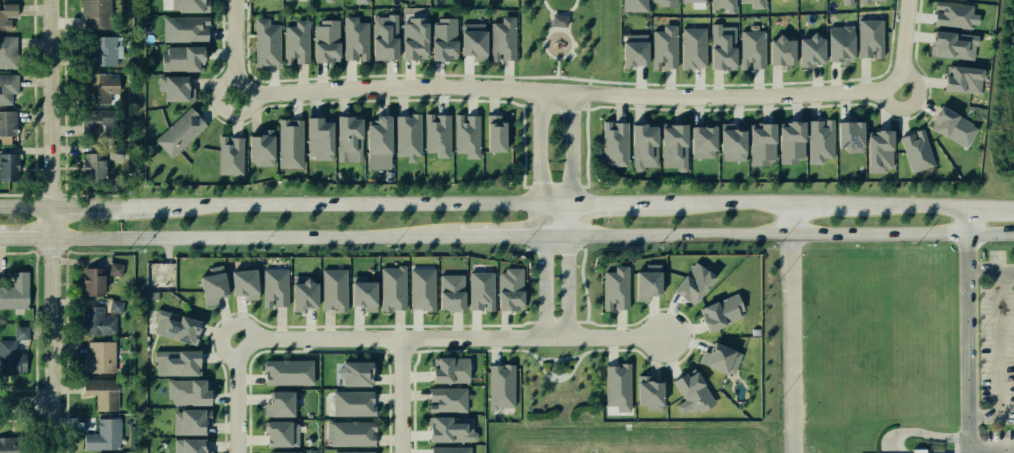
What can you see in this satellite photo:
building: (329, 0)
building: (868, 0)
building: (363, 1)
building: (662, 2)
building: (845, 2)
building: (696, 3)
building: (749, 3)
building: (632, 4)
building: (722, 4)
building: (191, 5)
road: (559, 12)
building: (950, 13)
building: (7, 14)
building: (94, 14)
building: (558, 20)
road: (549, 21)
road: (567, 22)
road: (558, 29)
building: (191, 30)
building: (412, 35)
building: (868, 37)
building: (442, 38)
building: (502, 38)
road: (235, 39)
building: (354, 39)
building: (325, 40)
building: (384, 40)
park: (567, 41)
road: (905, 41)
building: (295, 42)
building: (469, 42)
building: (265, 43)
building: (837, 43)
building: (950, 44)
building: (664, 48)
building: (690, 48)
building: (748, 48)
building: (720, 49)
building: (806, 49)
building: (103, 50)
building: (630, 51)
building: (779, 52)
building: (7, 53)
building: (185, 59)
road: (556, 67)
road: (534, 76)
road: (571, 78)
building: (961, 78)
road: (610, 81)
road: (588, 82)
building: (7, 86)
building: (97, 88)
building: (178, 88)
road: (564, 92)
road: (587, 93)
road: (911, 103)
road: (587, 105)
road: (222, 107)
building: (7, 122)
building: (89, 122)
building: (946, 124)
building: (182, 132)
building: (492, 132)
building: (408, 135)
building: (437, 135)
building: (347, 136)
building: (466, 136)
building: (318, 137)
building: (817, 138)
building: (845, 138)
building: (699, 140)
building: (788, 140)
building: (730, 141)
building: (377, 142)
building: (611, 142)
building: (760, 142)
building: (288, 143)
building: (669, 143)
building: (640, 144)
building: (878, 147)
road: (541, 149)
building: (915, 149)
building: (259, 150)
road: (571, 150)
building: (113, 152)
building: (231, 156)
building: (91, 165)
building: (8, 166)
road: (596, 203)
road: (713, 204)
road: (337, 205)
road: (819, 205)
road: (906, 205)
road: (989, 207)
road: (87, 209)
road: (27, 210)
road: (556, 219)
road: (790, 220)
road: (964, 220)
road: (55, 226)
road: (507, 235)
road: (785, 235)
road: (257, 237)
road: (27, 239)
road: (50, 250)
road: (63, 251)
road: (37, 252)
road: (65, 261)
building: (114, 269)
road: (989, 270)
building: (91, 280)
building: (241, 282)
building: (688, 282)
road: (569, 283)
building: (642, 283)
building: (206, 284)
road: (544, 284)
building: (274, 287)
building: (613, 287)
building: (508, 288)
building: (301, 289)
building: (331, 289)
building: (390, 289)
building: (420, 289)
building: (450, 289)
building: (15, 290)
building: (479, 290)
building: (362, 293)
road: (35, 304)
building: (717, 311)
building: (99, 318)
building: (175, 327)
road: (226, 328)
building: (20, 332)
road: (453, 337)
road: (791, 344)
building: (10, 355)
building: (99, 357)
building: (717, 357)
road: (1000, 358)
building: (179, 360)
road: (966, 364)
building: (445, 370)
building: (286, 371)
building: (351, 371)
building: (615, 385)
building: (500, 388)
road: (18, 389)
road: (65, 389)
building: (99, 391)
building: (646, 391)
building: (689, 391)
building: (187, 392)
road: (402, 395)
building: (444, 398)
road: (242, 400)
building: (277, 402)
road: (34, 403)
building: (350, 403)
road: (28, 404)
road: (34, 416)
road: (34, 419)
road: (36, 419)
building: (186, 421)
building: (445, 427)
building: (102, 434)
building: (350, 434)
building: (275, 435)
building: (4, 440)
parking lot: (995, 440)
building: (188, 445)
building: (447, 450)
building: (920, 451)
road: (967, 451)
building: (287, 452)
building: (354, 452)

